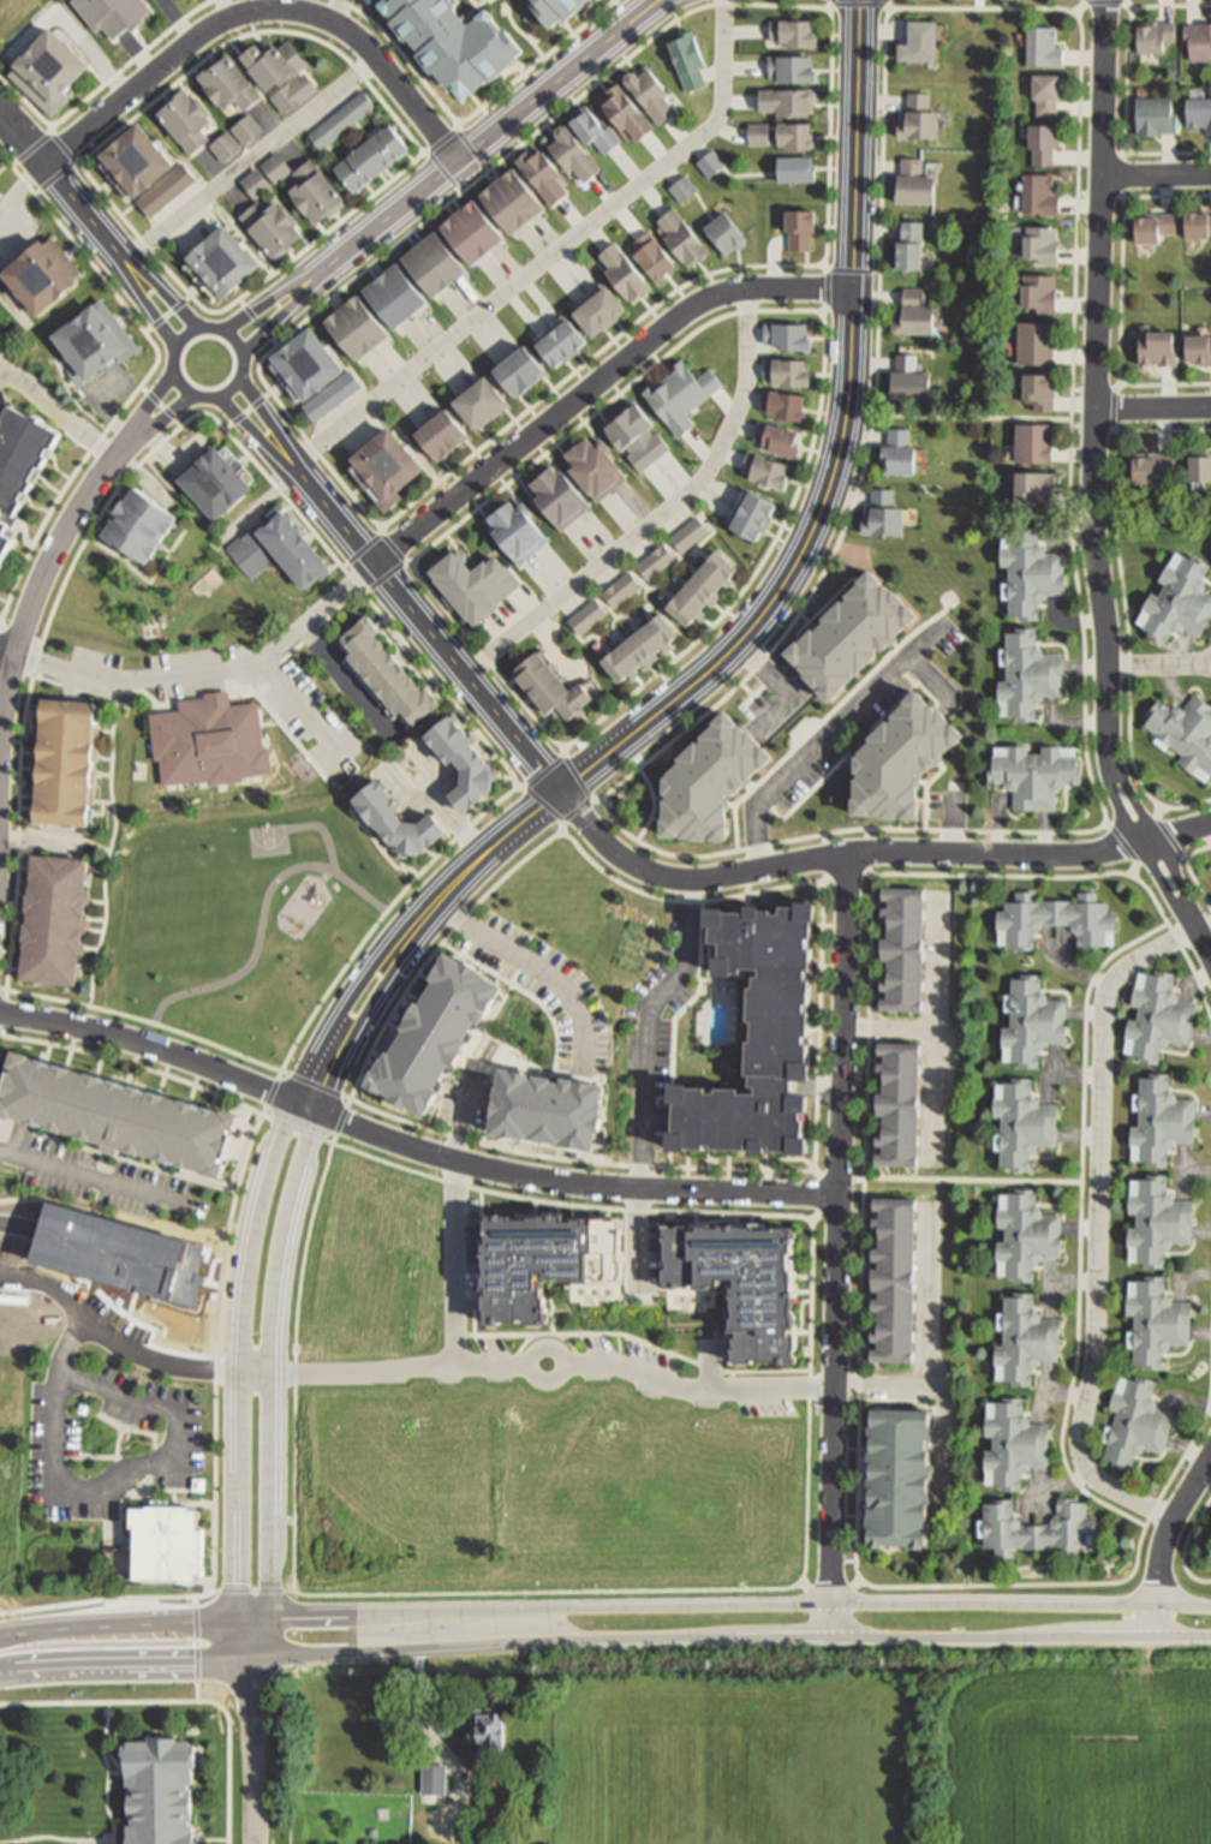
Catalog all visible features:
building: (183, 2)
road: (834, 2)
road: (1104, 4)
building: (561, 6)
road: (859, 6)
road: (1131, 7)
road: (889, 8)
road: (333, 10)
road: (1080, 10)
road: (257, 11)
park: (10, 13)
building: (113, 13)
building: (792, 30)
building: (1155, 35)
building: (463, 36)
building: (1198, 38)
building: (917, 40)
building: (1042, 44)
building: (686, 58)
building: (275, 61)
building: (789, 67)
building: (49, 70)
road: (106, 83)
building: (229, 83)
road: (1127, 84)
building: (1046, 90)
building: (294, 93)
building: (648, 93)
building: (786, 100)
building: (624, 111)
building: (1199, 111)
building: (1153, 114)
building: (917, 117)
road: (470, 118)
building: (184, 119)
building: (340, 121)
road: (458, 124)
road: (52, 129)
building: (246, 129)
building: (591, 129)
building: (756, 131)
building: (793, 133)
road: (489, 136)
building: (1043, 141)
road: (439, 143)
building: (223, 145)
road: (62, 148)
building: (569, 151)
road: (1126, 154)
building: (369, 159)
road: (250, 160)
building: (709, 161)
road: (80, 162)
building: (132, 163)
building: (0, 167)
building: (276, 167)
building: (793, 167)
building: (541, 171)
road: (1156, 174)
building: (913, 180)
building: (256, 184)
road: (62, 185)
road: (95, 185)
building: (681, 186)
building: (167, 191)
building: (315, 192)
building: (1038, 192)
building: (509, 197)
building: (0, 198)
road: (1126, 198)
building: (1197, 222)
building: (1152, 225)
building: (799, 227)
building: (270, 228)
building: (470, 229)
building: (724, 232)
building: (680, 235)
building: (1042, 241)
building: (907, 244)
building: (651, 253)
building: (430, 263)
building: (220, 264)
road: (825, 267)
building: (621, 270)
building: (43, 275)
road: (511, 287)
building: (1039, 291)
road: (165, 292)
road: (1122, 293)
building: (392, 294)
road: (268, 299)
road: (147, 304)
building: (596, 309)
road: (824, 311)
building: (913, 311)
road: (281, 314)
road: (168, 315)
road: (257, 322)
building: (352, 326)
building: (785, 334)
building: (556, 340)
building: (1036, 341)
building: (95, 342)
building: (1156, 347)
building: (1198, 347)
building: (303, 366)
building: (517, 369)
building: (785, 370)
road: (147, 377)
building: (907, 377)
road: (595, 383)
road: (1120, 384)
road: (234, 386)
building: (1038, 388)
road: (1078, 390)
building: (329, 395)
building: (680, 395)
building: (477, 400)
building: (782, 404)
road: (161, 405)
road: (1153, 408)
road: (247, 410)
road: (59, 411)
road: (144, 412)
road: (974, 417)
road: (269, 419)
road: (156, 424)
road: (1078, 426)
road: (252, 431)
road: (1118, 431)
building: (437, 432)
building: (634, 436)
building: (776, 437)
road: (815, 437)
building: (1033, 441)
road: (840, 449)
building: (897, 450)
building: (19, 464)
building: (1152, 466)
building: (1199, 466)
building: (592, 467)
building: (384, 469)
building: (763, 469)
building: (214, 479)
building: (1033, 487)
road: (1098, 488)
road: (279, 491)
building: (556, 496)
road: (417, 499)
building: (882, 513)
building: (751, 514)
road: (664, 515)
building: (137, 525)
road: (381, 529)
building: (513, 530)
building: (688, 535)
building: (278, 549)
road: (360, 550)
road: (395, 550)
building: (655, 562)
building: (1031, 573)
road: (383, 577)
building: (473, 585)
building: (621, 590)
building: (703, 590)
road: (34, 598)
building: (1179, 599)
road: (1126, 604)
building: (586, 616)
road: (1, 626)
road: (425, 629)
building: (847, 632)
road: (1, 635)
building: (639, 649)
road: (7, 652)
road: (1159, 666)
road: (210, 673)
building: (1027, 673)
building: (383, 675)
road: (344, 679)
road: (1086, 684)
building: (550, 687)
road: (302, 709)
road: (825, 717)
building: (1185, 729)
road: (828, 736)
building: (205, 739)
road: (563, 750)
building: (459, 756)
building: (897, 757)
building: (62, 762)
road: (573, 771)
building: (1033, 774)
building: (705, 778)
road: (926, 783)
road: (518, 787)
road: (927, 794)
road: (598, 800)
road: (654, 805)
road: (733, 805)
road: (547, 808)
building: (393, 810)
road: (1159, 812)
road: (530, 817)
road: (1108, 825)
road: (869, 852)
road: (532, 853)
road: (1185, 855)
road: (1188, 857)
road: (1135, 871)
road: (1192, 871)
road: (847, 876)
road: (872, 876)
road: (823, 883)
building: (903, 897)
building: (902, 918)
building: (54, 919)
building: (1054, 919)
building: (902, 941)
building: (902, 962)
building: (902, 984)
building: (901, 1002)
building: (1153, 1007)
road: (1105, 1028)
building: (1036, 1034)
building: (759, 1038)
building: (900, 1052)
road: (135, 1063)
building: (900, 1073)
road: (646, 1079)
building: (899, 1094)
building: (1159, 1109)
building: (112, 1114)
building: (899, 1114)
road: (845, 1120)
road: (299, 1128)
building: (1032, 1132)
building: (899, 1134)
road: (412, 1145)
road: (536, 1154)
building: (897, 1156)
road: (799, 1159)
road: (103, 1180)
road: (974, 1181)
road: (262, 1190)
road: (817, 1218)
building: (1156, 1218)
road: (286, 1223)
road: (1082, 1225)
building: (1032, 1231)
road: (864, 1252)
road: (457, 1263)
building: (553, 1265)
building: (895, 1276)
building: (745, 1283)
building: (1150, 1318)
building: (1031, 1341)
road: (561, 1349)
road: (217, 1351)
road: (297, 1365)
road: (251, 1373)
road: (1094, 1375)
road: (702, 1389)
road: (811, 1413)
parking lot: (108, 1433)
building: (1139, 1437)
building: (1015, 1444)
road: (113, 1479)
building: (901, 1479)
road: (835, 1494)
road: (1171, 1528)
building: (1037, 1530)
building: (163, 1542)
road: (1186, 1547)
road: (857, 1583)
road: (806, 1586)
road: (831, 1588)
road: (252, 1591)
road: (106, 1598)
road: (995, 1605)
road: (1183, 1606)
road: (536, 1609)
road: (833, 1621)
road: (1155, 1621)
road: (119, 1623)
road: (246, 1639)
road: (732, 1639)
road: (126, 1664)
road: (238, 1677)
road: (222, 1683)
road: (180, 1701)
building: (489, 1726)
road: (440, 1742)
crop: (871, 1744)
road: (253, 1751)
road: (117, 1761)
road: (109, 1772)
road: (118, 1773)
building: (434, 1778)
building: (160, 1790)
road: (56, 1838)
road: (213, 1840)
road: (88, 1842)
road: (208, 1842)

